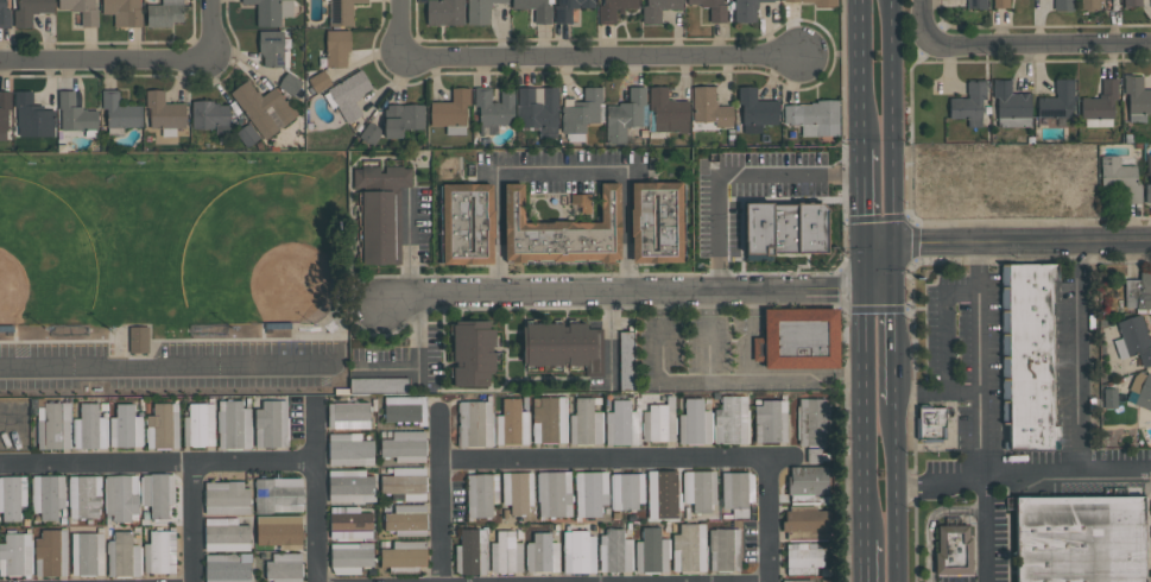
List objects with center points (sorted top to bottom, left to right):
building: (815, 1)
building: (1132, 2)
building: (976, 4)
building: (1000, 4)
building: (1089, 4)
building: (1063, 5)
building: (536, 8)
building: (568, 8)
building: (613, 10)
building: (657, 10)
building: (713, 10)
building: (746, 10)
building: (30, 11)
building: (82, 11)
building: (271, 11)
building: (479, 11)
building: (122, 12)
building: (341, 12)
building: (444, 12)
building: (164, 13)
building: (4, 14)
road: (924, 29)
road: (1049, 46)
building: (336, 48)
building: (272, 49)
road: (581, 55)
road: (137, 62)
road: (864, 74)
building: (320, 81)
building: (290, 83)
building: (347, 95)
building: (1137, 97)
building: (1057, 101)
building: (969, 103)
building: (1011, 105)
building: (494, 106)
building: (1100, 106)
building: (709, 107)
building: (264, 108)
building: (537, 109)
building: (666, 110)
building: (757, 110)
building: (4, 112)
building: (451, 112)
building: (75, 113)
building: (119, 113)
building: (164, 113)
building: (581, 114)
building: (209, 115)
building: (625, 115)
building: (32, 116)
building: (814, 118)
building: (401, 119)
building: (369, 133)
building: (247, 135)
road: (894, 146)
road: (562, 170)
road: (734, 173)
building: (1119, 178)
building: (1150, 178)
road: (864, 198)
building: (581, 204)
building: (380, 211)
building: (656, 222)
building: (467, 223)
building: (784, 228)
building: (562, 230)
road: (407, 246)
road: (1007, 246)
park: (267, 255)
park: (42, 260)
park: (170, 278)
building: (1138, 291)
road: (639, 293)
road: (662, 305)
road: (709, 335)
road: (747, 335)
road: (611, 336)
building: (797, 339)
building: (139, 340)
building: (1132, 341)
road: (941, 342)
building: (562, 346)
road: (894, 348)
building: (473, 353)
building: (1029, 355)
road: (1082, 356)
road: (420, 359)
road: (981, 360)
building: (626, 361)
road: (165, 365)
road: (734, 378)
building: (378, 385)
building: (1140, 390)
road: (864, 393)
road: (919, 396)
building: (405, 410)
building: (348, 415)
building: (549, 419)
building: (731, 420)
building: (770, 420)
building: (812, 420)
building: (658, 422)
building: (474, 423)
building: (511, 423)
building: (584, 423)
building: (694, 423)
building: (233, 424)
building: (271, 424)
building: (621, 424)
building: (52, 425)
building: (198, 425)
building: (934, 425)
building: (125, 426)
building: (163, 426)
building: (89, 428)
building: (404, 445)
building: (348, 450)
road: (606, 461)
road: (157, 463)
road: (1022, 470)
building: (405, 483)
building: (807, 483)
building: (349, 486)
building: (627, 491)
building: (700, 491)
building: (517, 492)
building: (590, 492)
building: (736, 492)
building: (157, 493)
building: (554, 493)
road: (896, 493)
building: (278, 494)
building: (663, 494)
building: (46, 495)
road: (315, 495)
road: (442, 495)
building: (481, 495)
building: (12, 496)
building: (83, 496)
building: (120, 498)
building: (226, 498)
building: (406, 519)
road: (771, 520)
road: (929, 521)
road: (192, 523)
building: (349, 523)
building: (805, 523)
road: (985, 527)
building: (279, 532)
building: (224, 534)
building: (1080, 539)
building: (689, 548)
building: (725, 549)
building: (954, 550)
building: (614, 551)
building: (651, 551)
building: (159, 552)
building: (472, 552)
building: (578, 552)
building: (50, 553)
building: (87, 553)
building: (505, 553)
building: (542, 553)
building: (15, 555)
building: (122, 555)
building: (404, 555)
building: (349, 557)
building: (802, 558)
road: (865, 559)
building: (227, 568)
building: (284, 568)
building: (796, 581)

